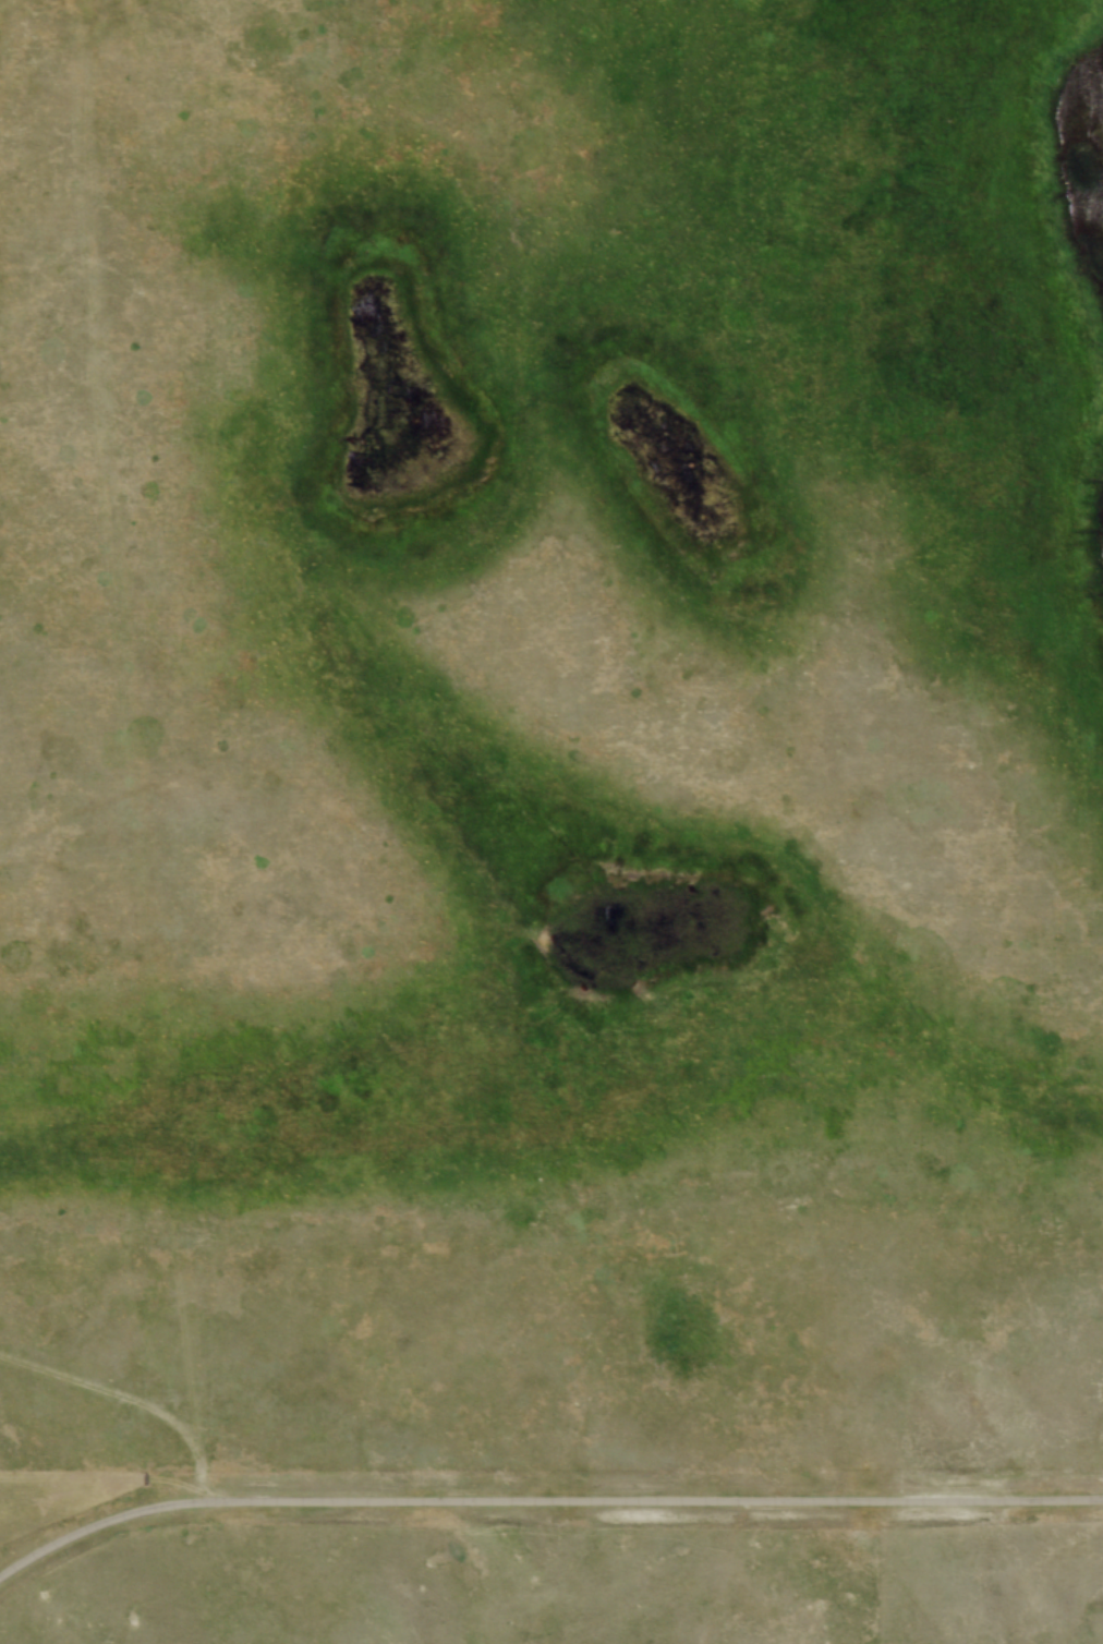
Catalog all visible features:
road: (544, 1500)

